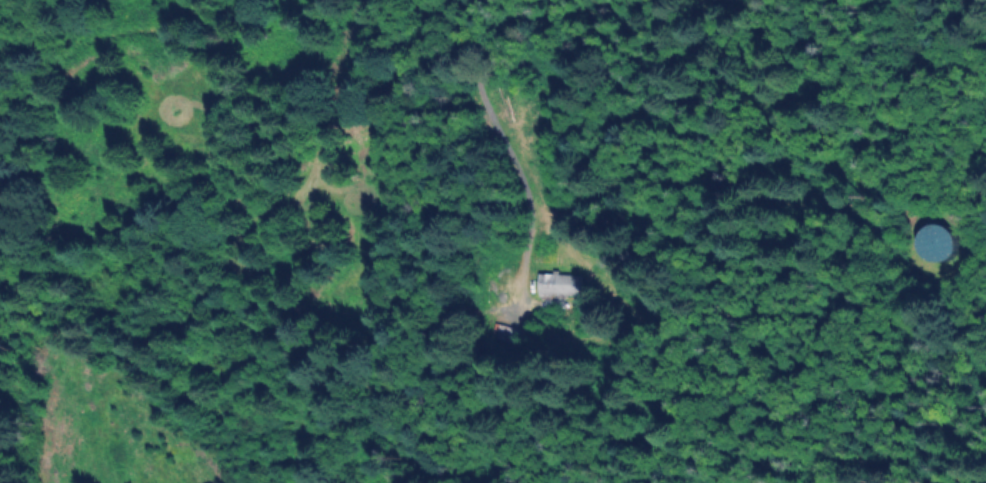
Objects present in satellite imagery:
building: (941, 242)
building: (565, 285)

